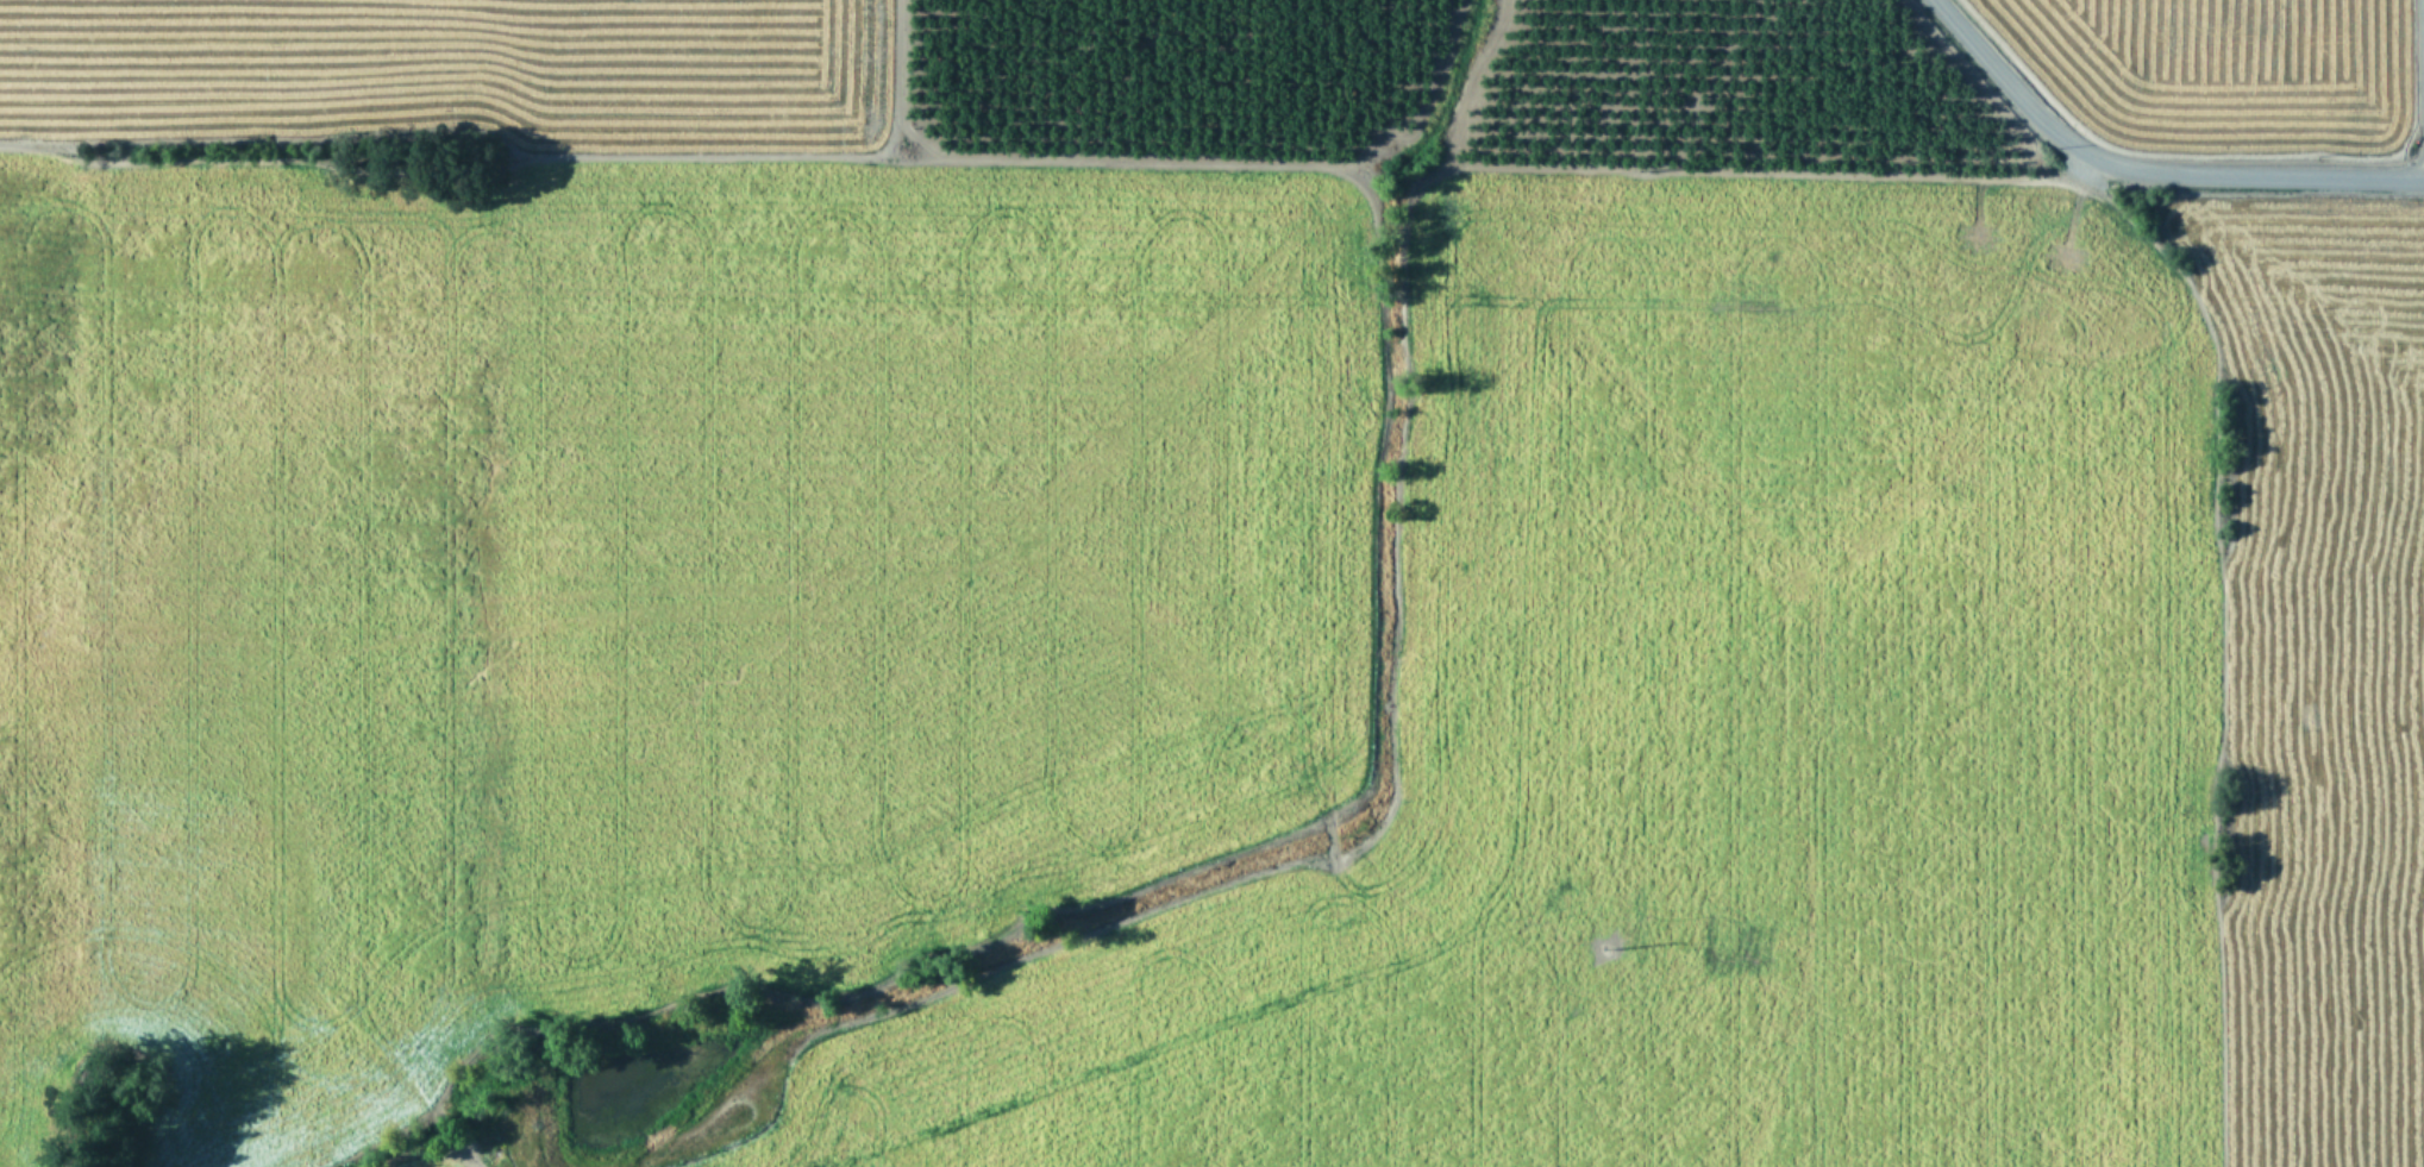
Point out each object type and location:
crop: (2240, 65)
road: (2422, 88)
road: (2143, 171)
crop: (1182, 598)

